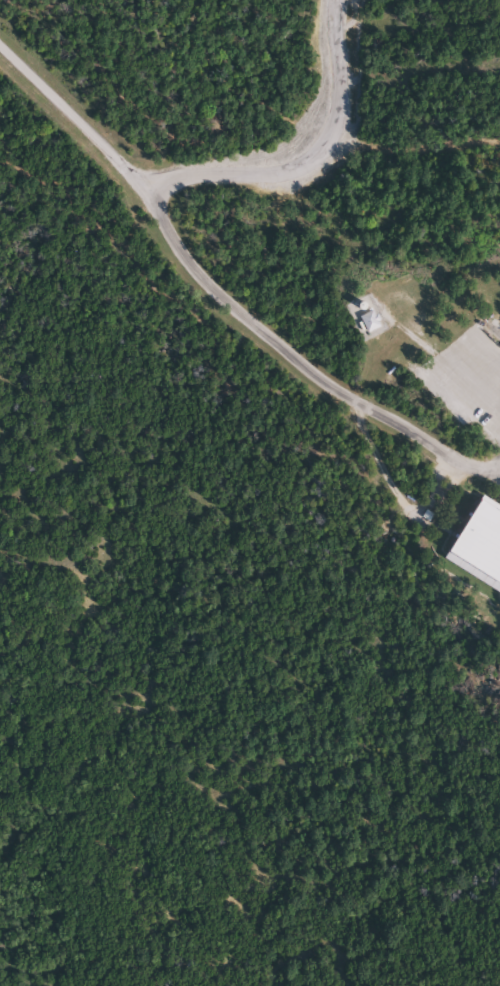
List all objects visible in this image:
road: (75, 120)
road: (176, 247)
building: (359, 304)
building: (368, 320)
building: (358, 326)
parking lot: (469, 378)
building: (477, 545)

